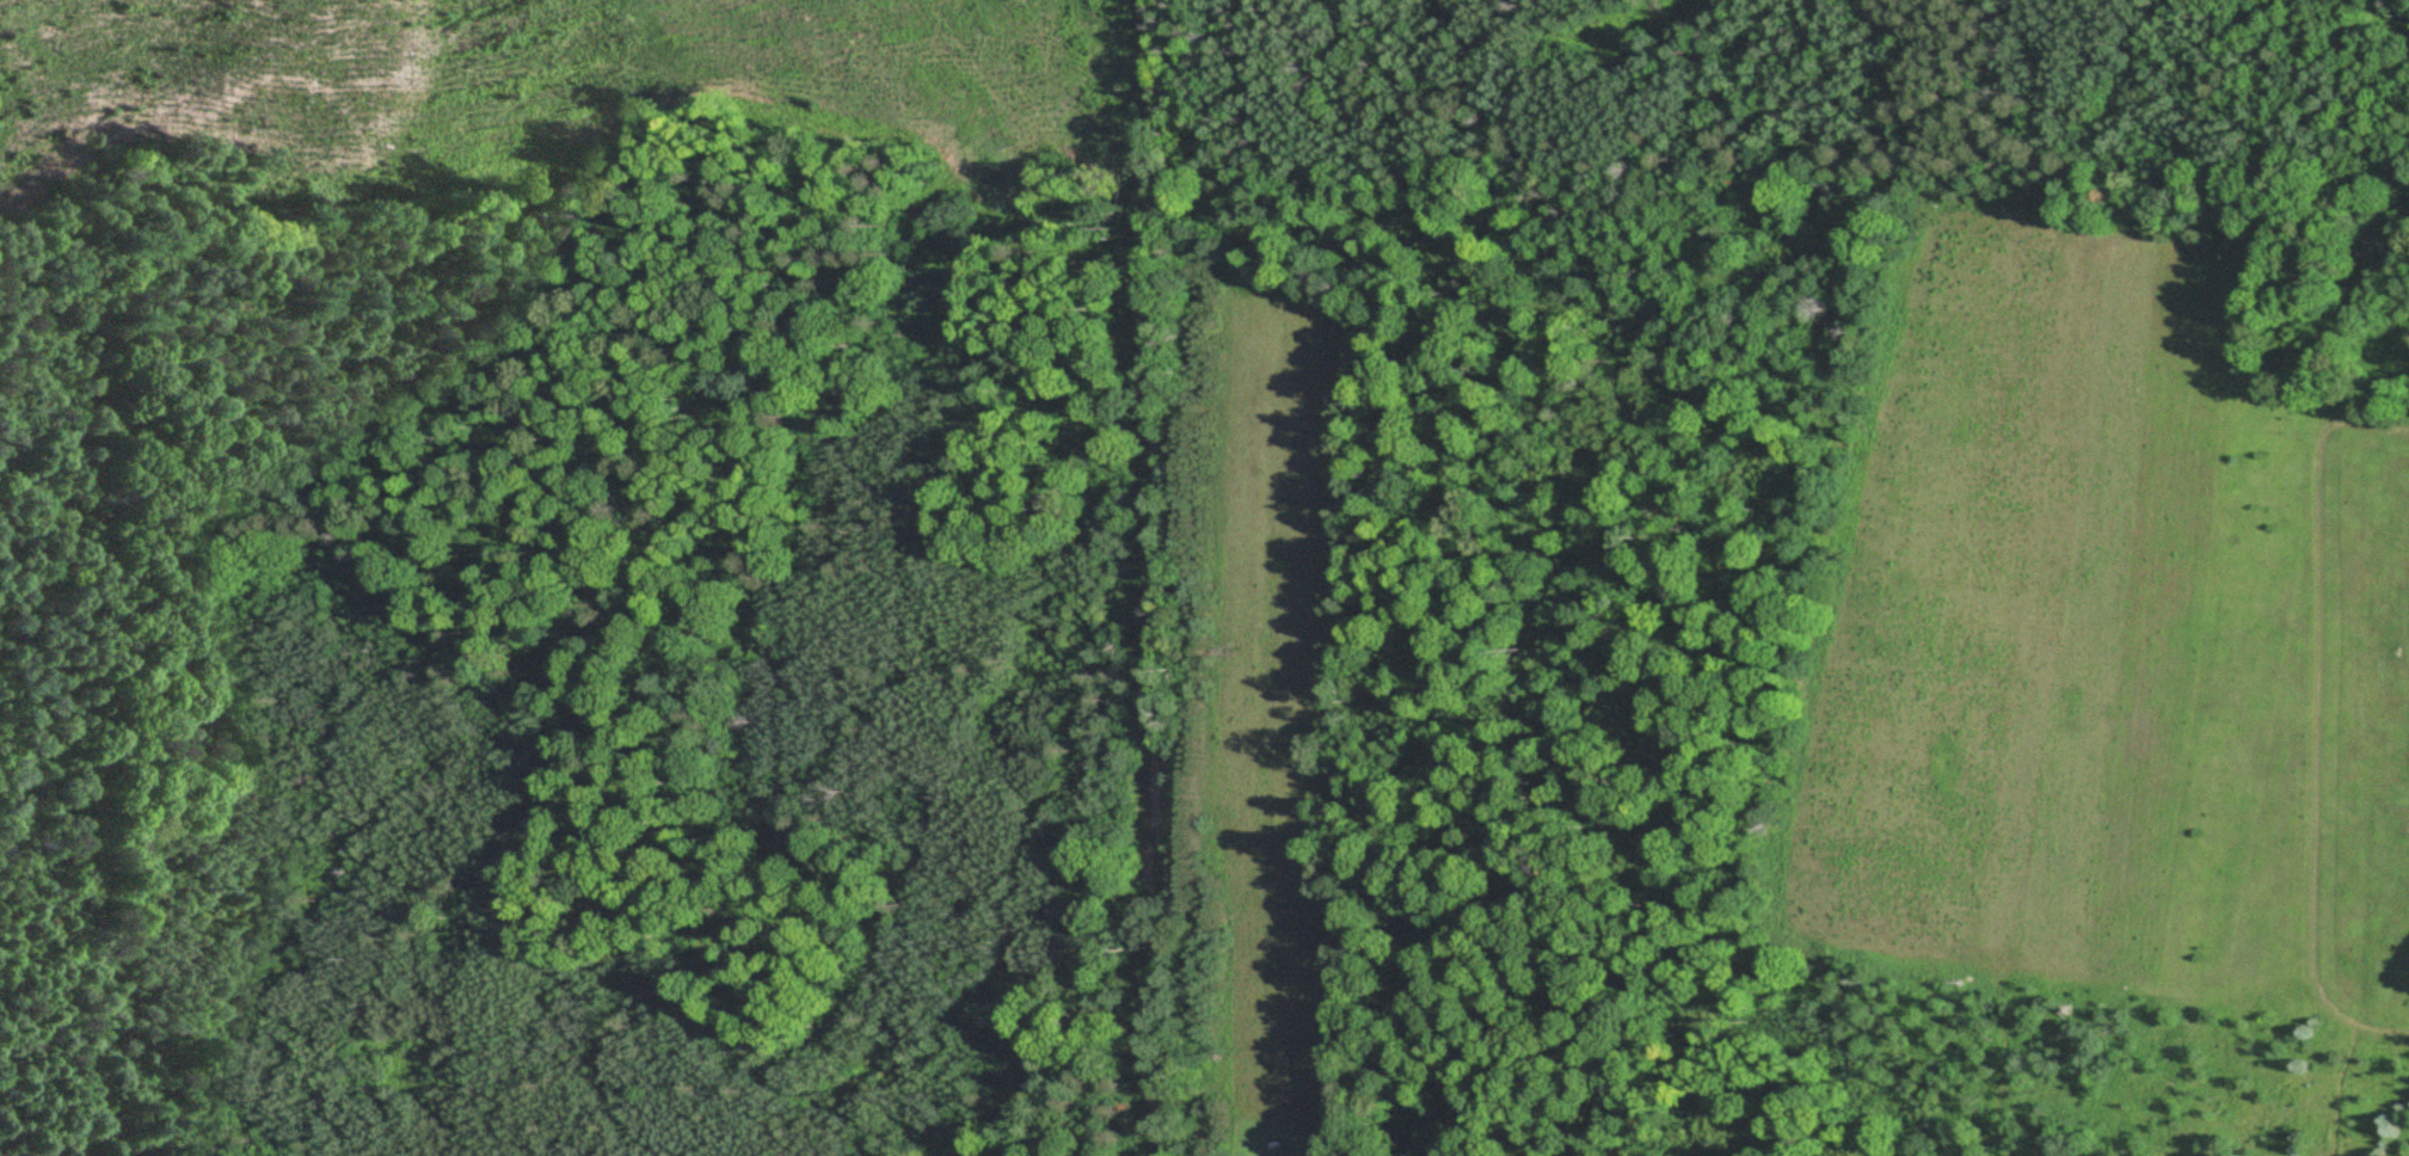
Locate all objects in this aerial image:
road: (1156, 577)

